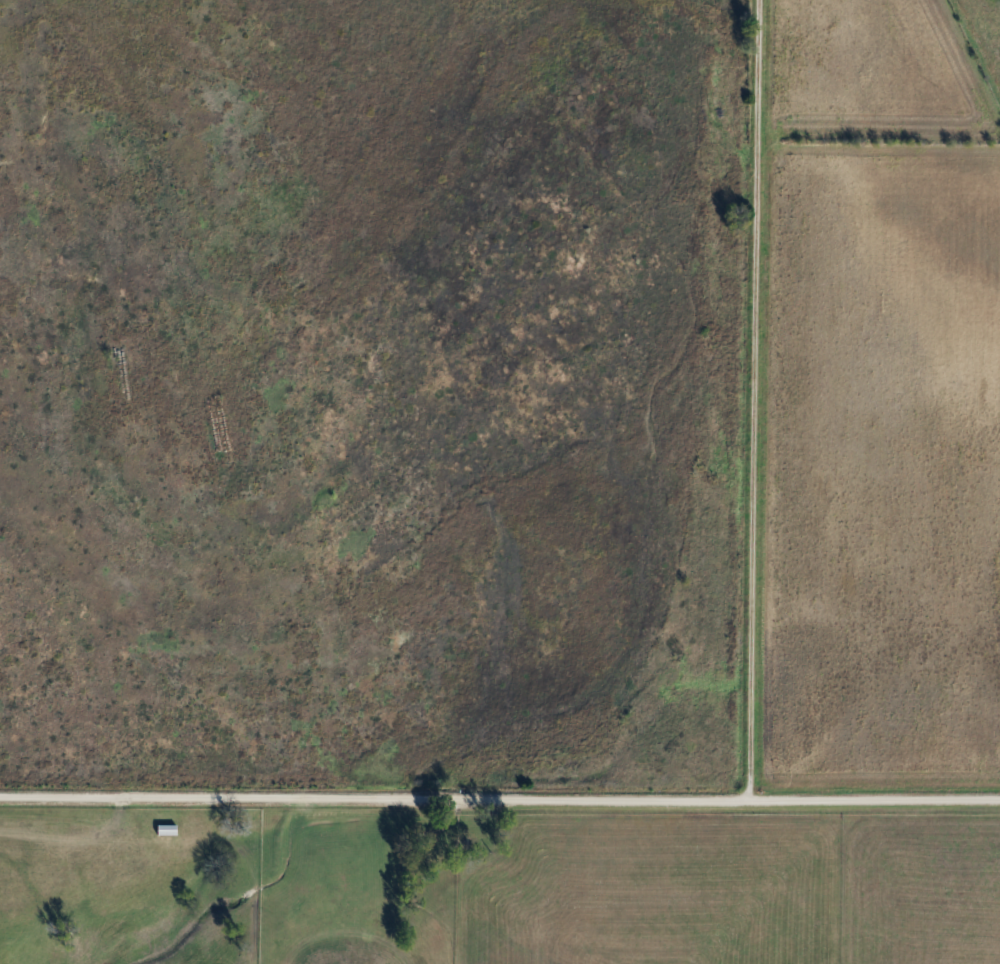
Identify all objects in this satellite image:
road: (752, 399)
road: (500, 797)
building: (166, 829)

